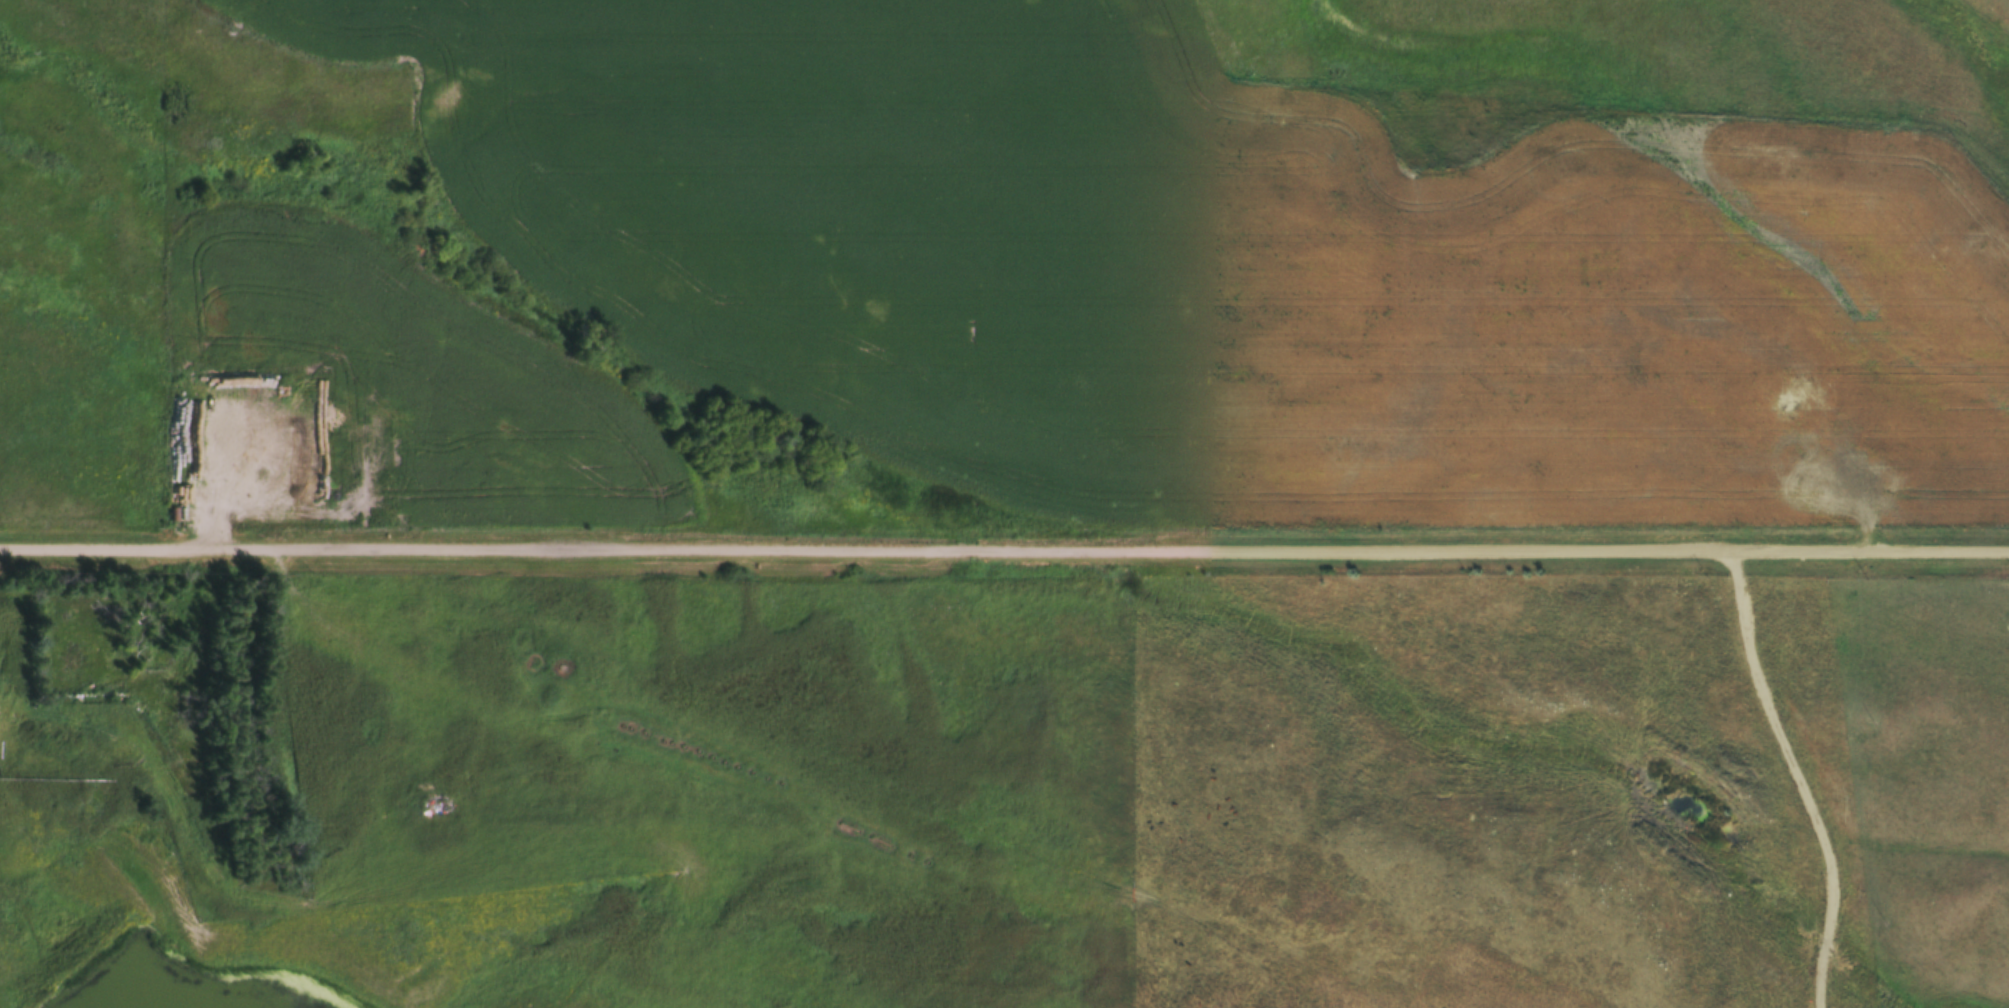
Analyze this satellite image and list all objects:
building: (284, 492)
road: (1004, 554)
building: (282, 643)
building: (69, 668)
building: (71, 765)

